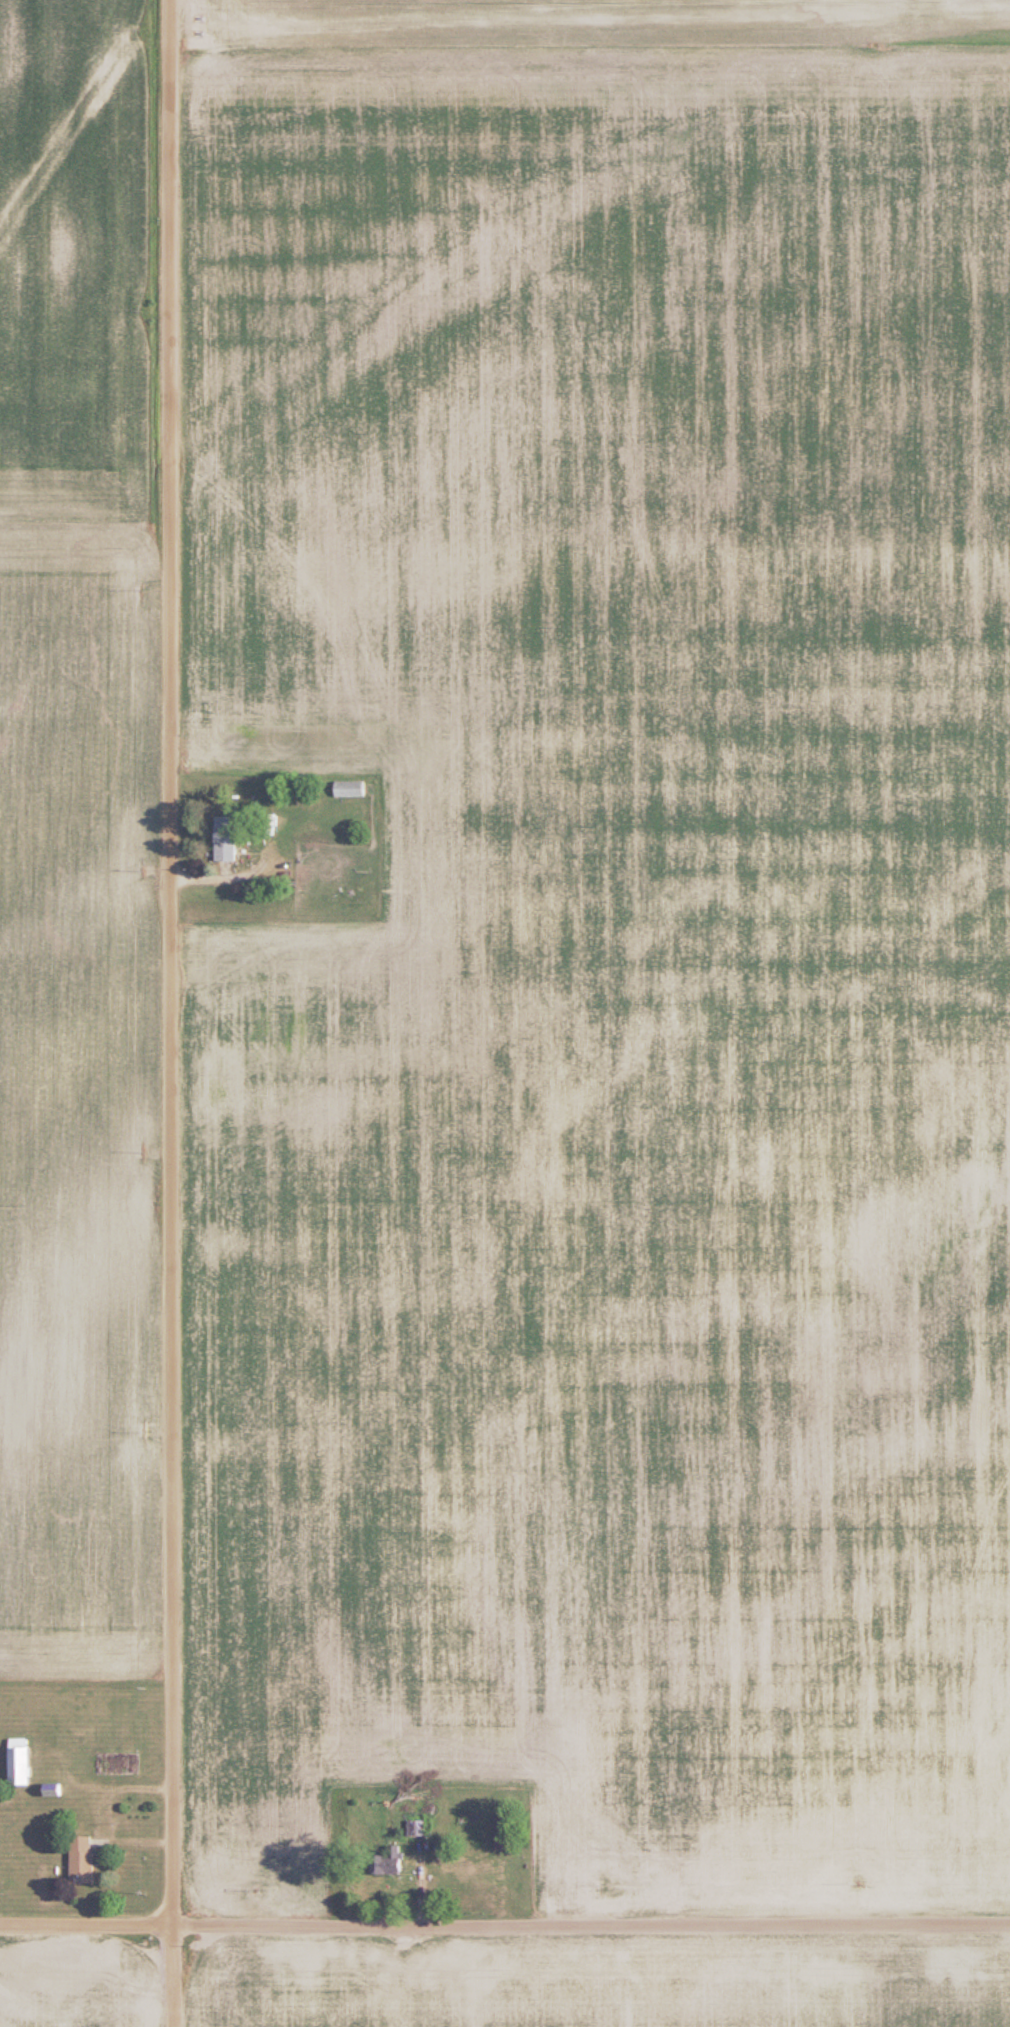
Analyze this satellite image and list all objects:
building: (349, 787)
building: (224, 837)
road: (228, 876)
road: (176, 1013)
building: (18, 1762)
building: (51, 1789)
building: (9, 1801)
building: (415, 1827)
building: (502, 1830)
building: (81, 1860)
building: (387, 1862)
road: (504, 1926)

